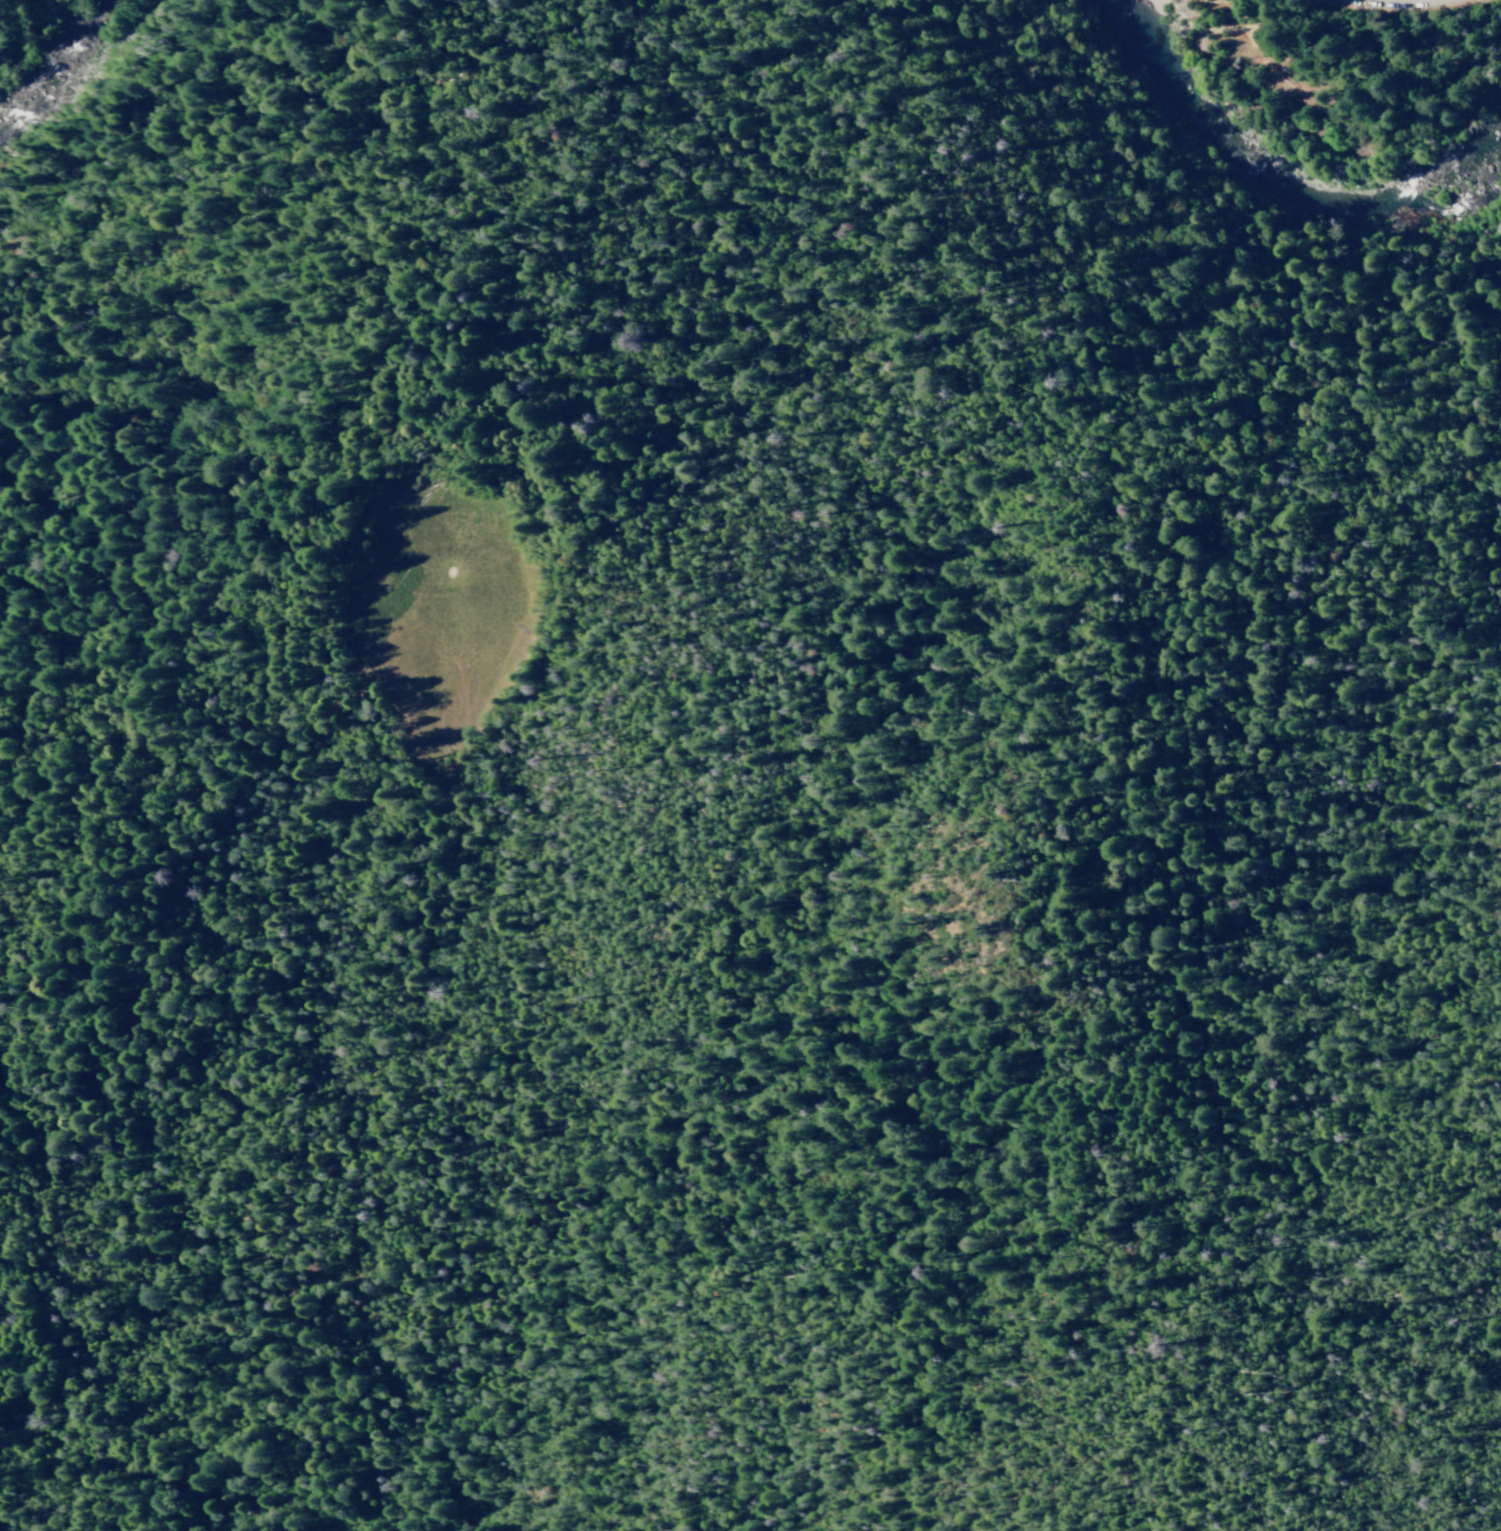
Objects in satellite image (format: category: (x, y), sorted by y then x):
river: (37, 53)
river: (1175, 69)
river: (1369, 189)

